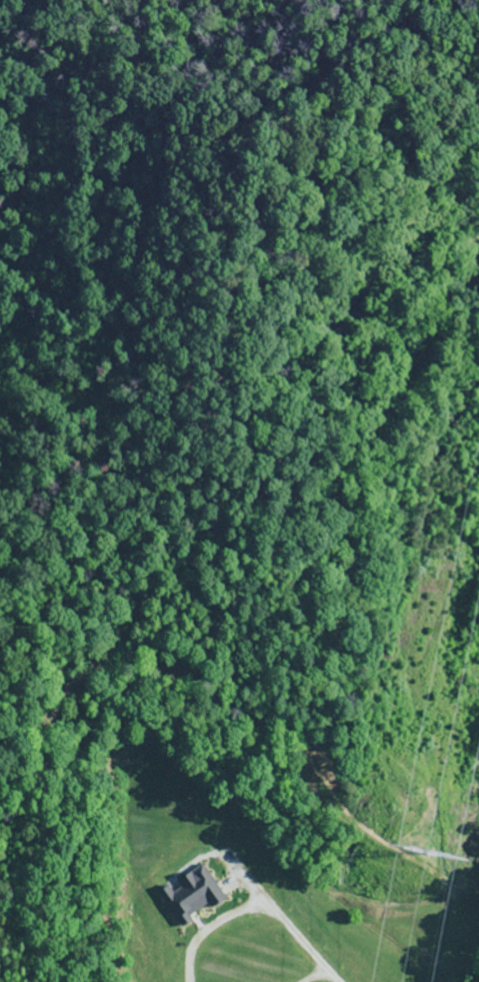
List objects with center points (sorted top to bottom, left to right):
power tower: (427, 880)

